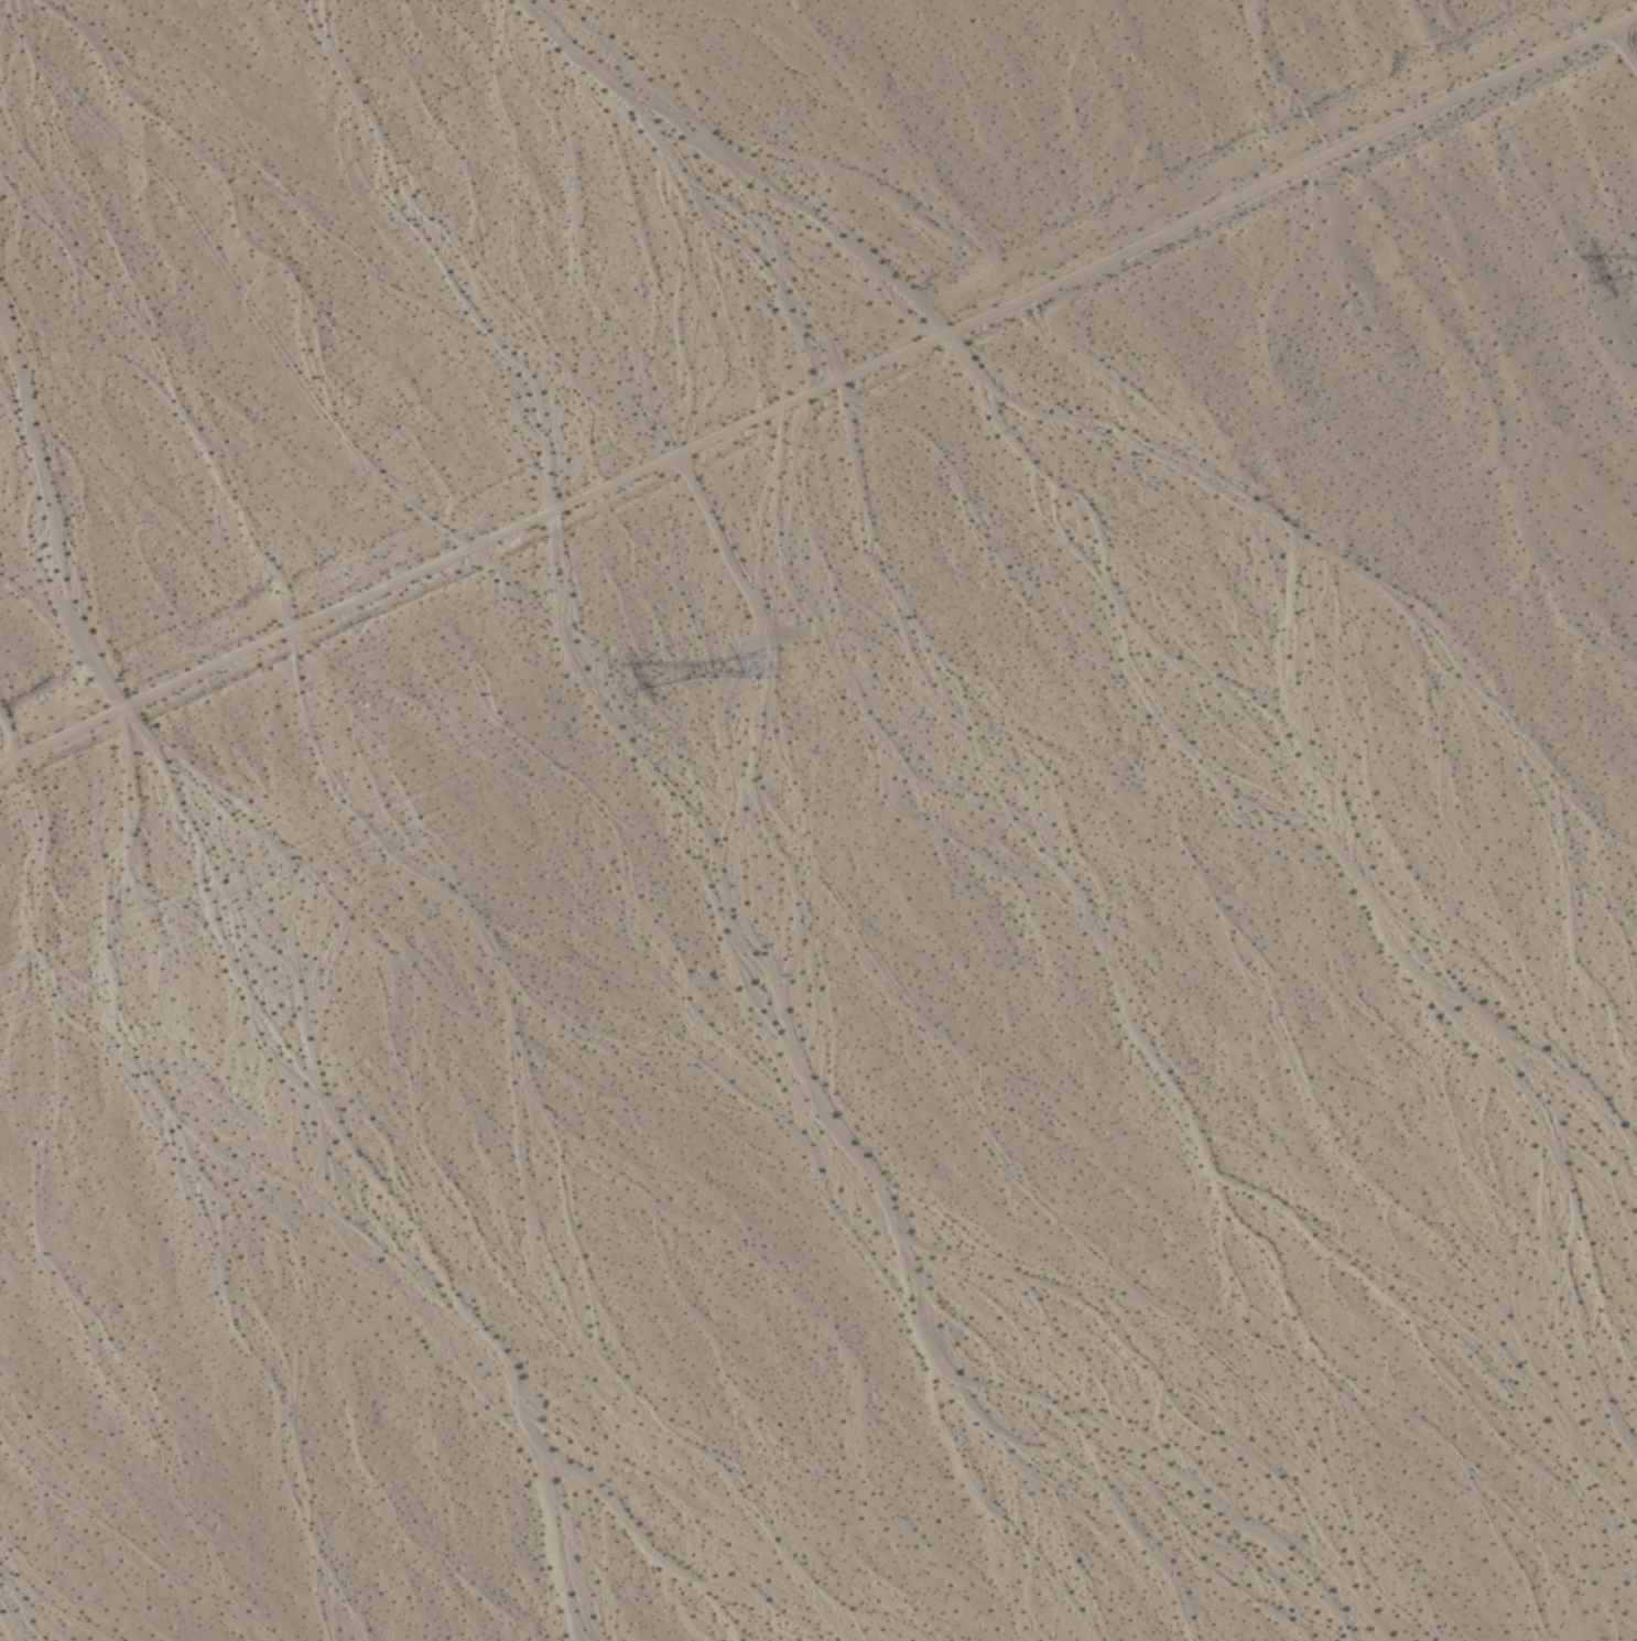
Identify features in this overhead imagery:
road: (817, 368)
power tower: (794, 659)

